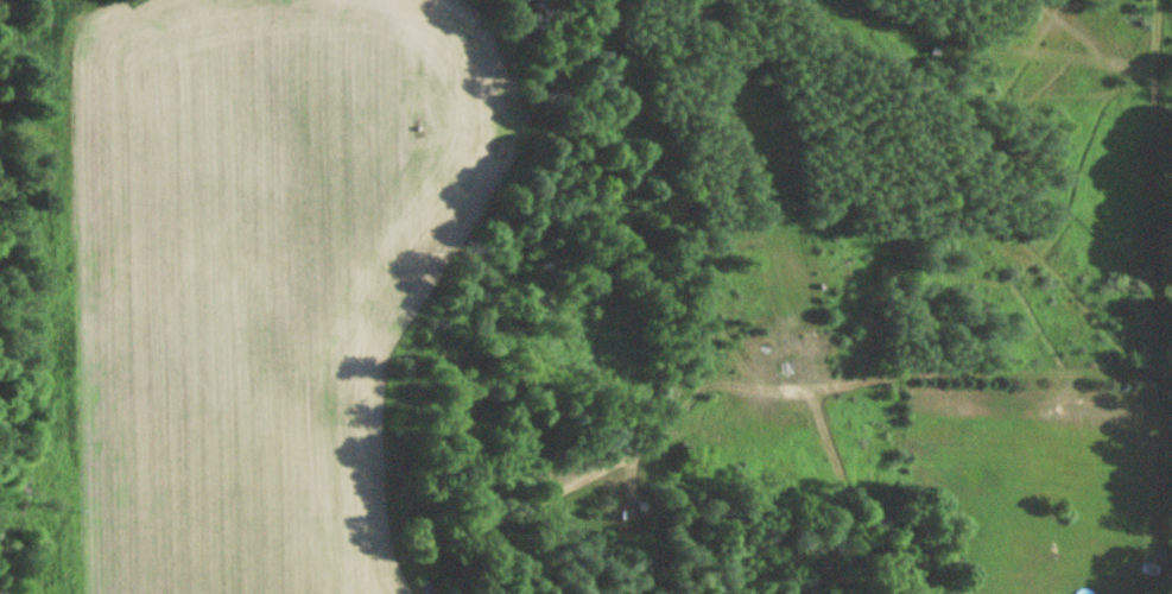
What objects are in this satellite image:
road: (541, 554)

